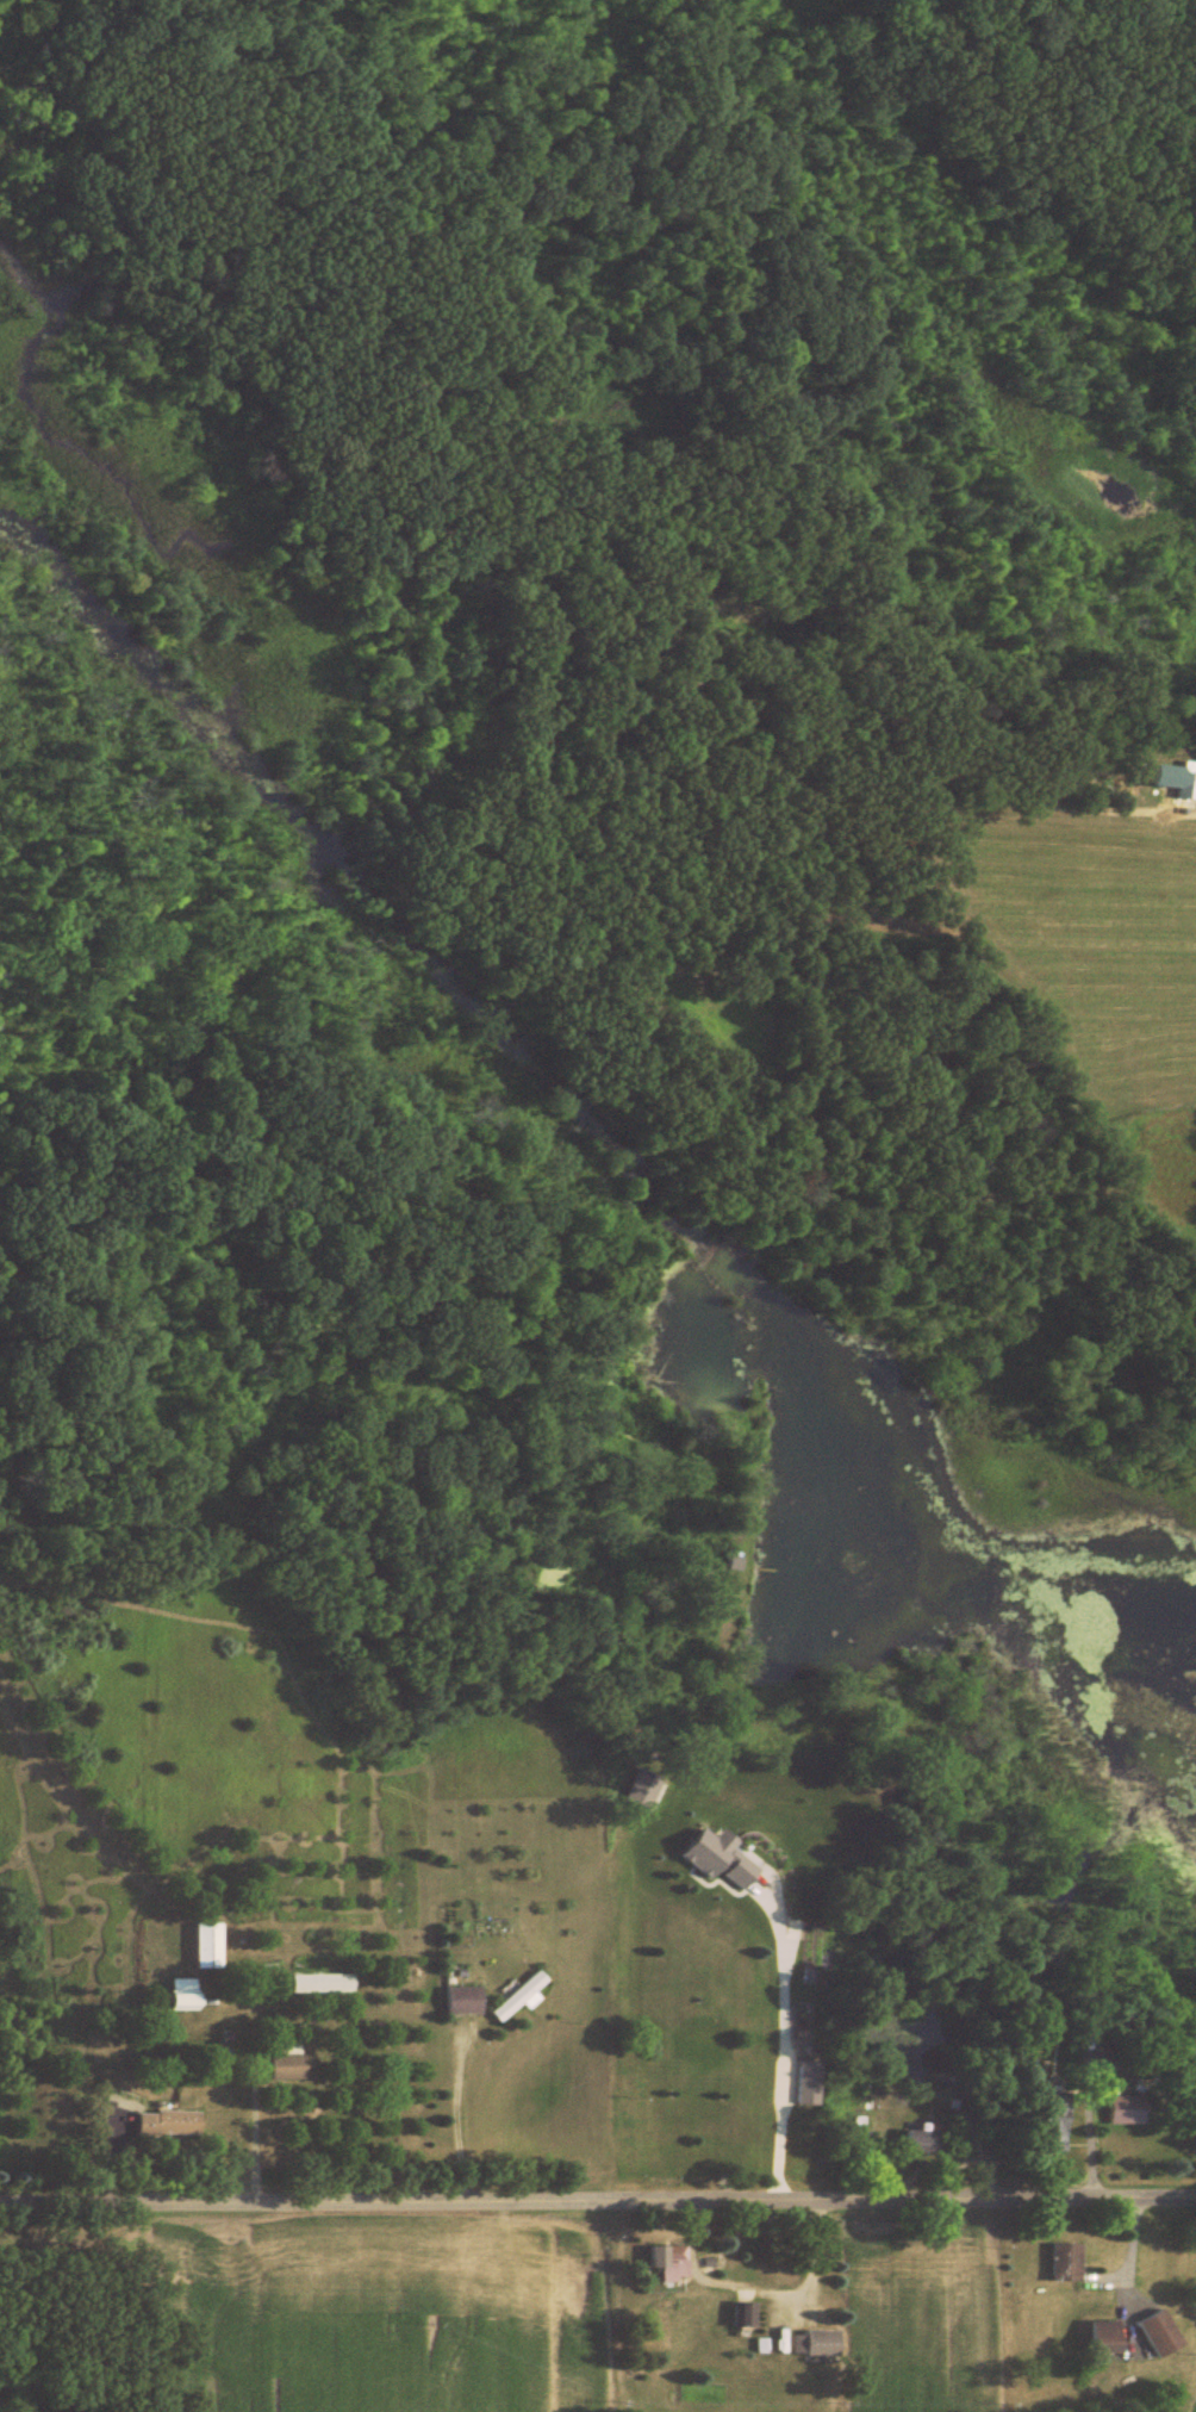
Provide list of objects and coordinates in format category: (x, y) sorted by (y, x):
building: (1190, 779)
river: (587, 1136)
building: (647, 1788)
building: (210, 1944)
building: (324, 1982)
building: (186, 1993)
building: (522, 1995)
building: (465, 1998)
building: (705, 2041)
building: (288, 2059)
building: (812, 2082)
building: (170, 2122)
building: (924, 2143)
road: (597, 2177)
building: (668, 2257)
building: (1069, 2261)
building: (1165, 2332)
building: (1110, 2336)
building: (817, 2340)

